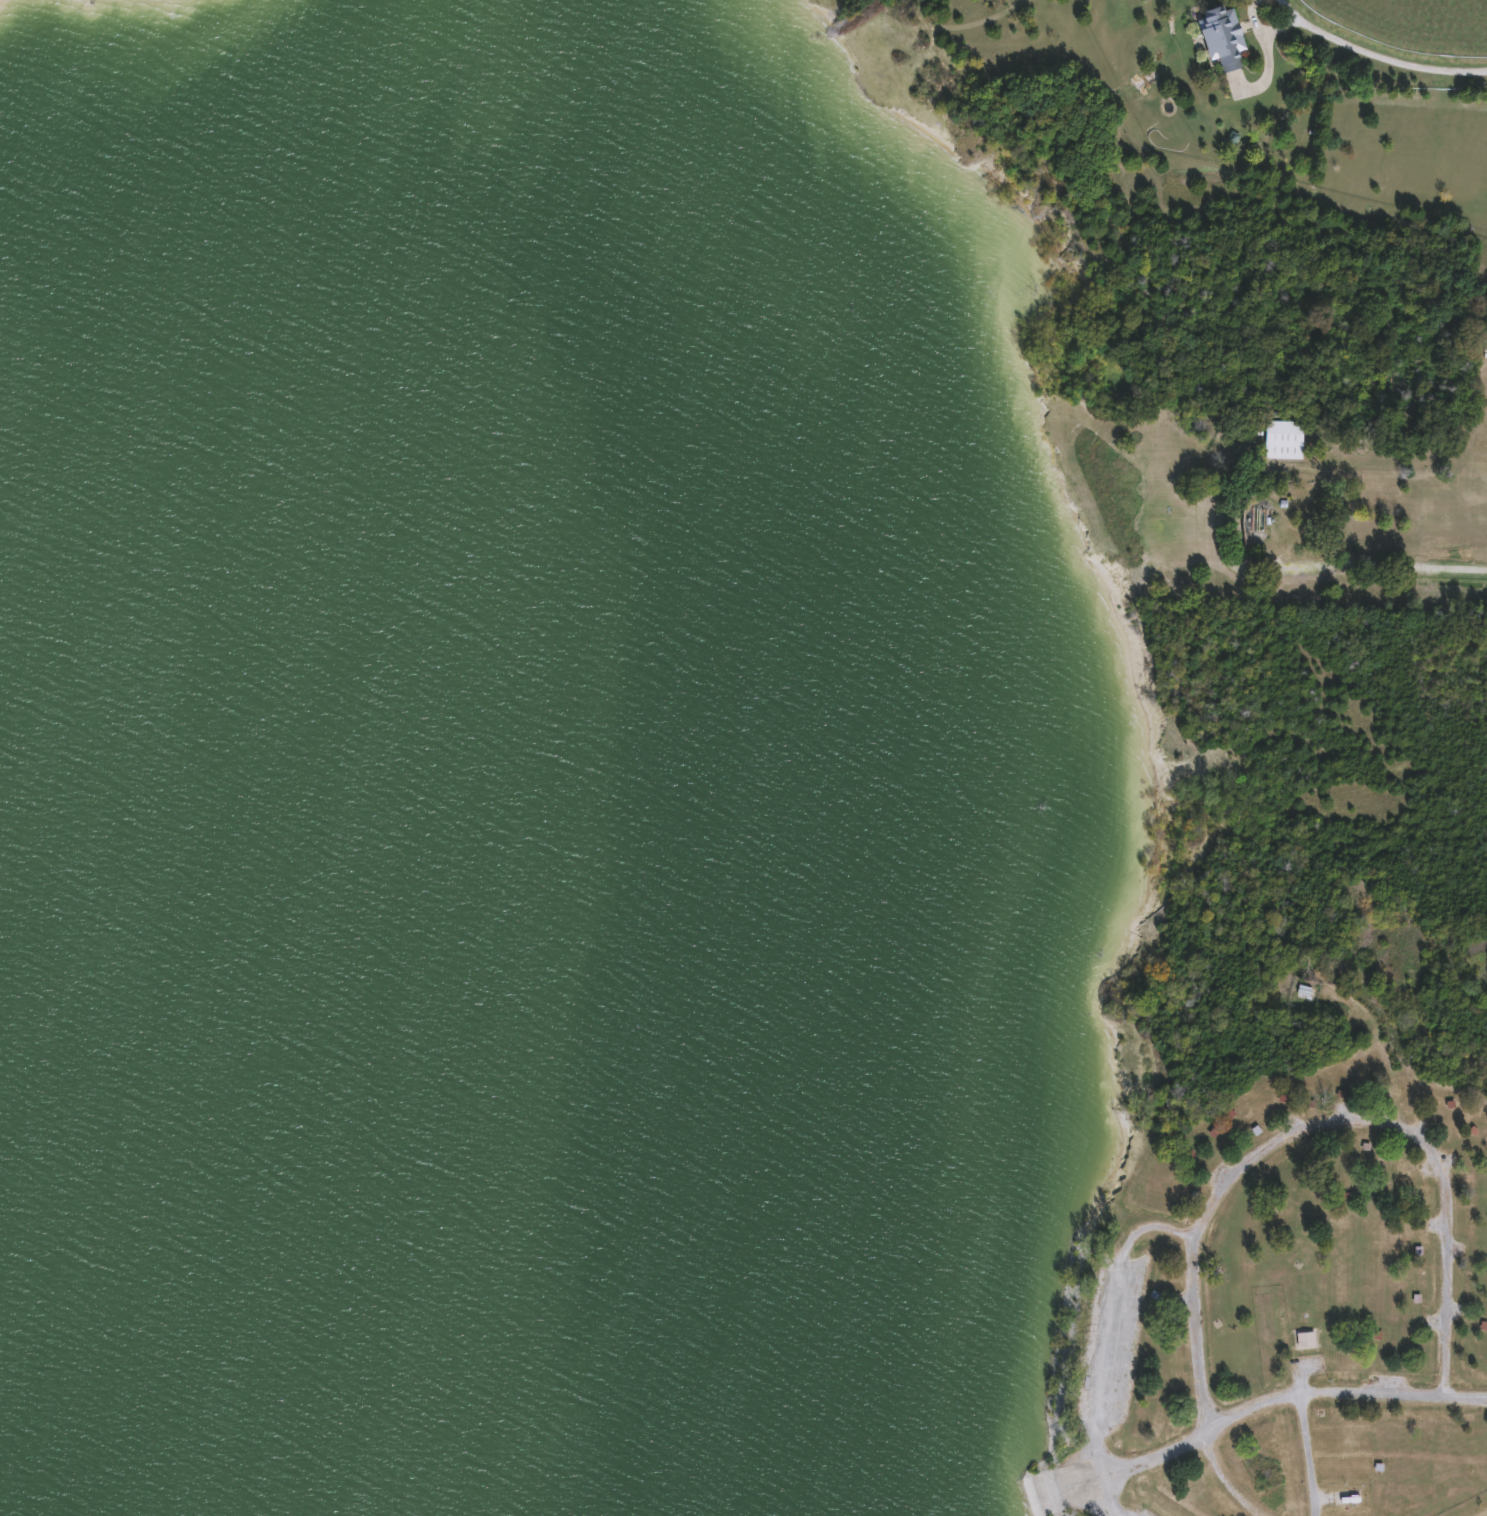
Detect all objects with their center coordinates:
building: (1217, 36)
road: (1376, 55)
building: (1485, 338)
building: (1282, 440)
road: (1343, 582)
building: (1304, 991)
park: (1304, 1077)
building: (1341, 1094)
building: (1281, 1097)
building: (1448, 1104)
building: (1228, 1113)
building: (1470, 1130)
building: (1212, 1131)
building: (1255, 1131)
road: (1277, 1137)
building: (1364, 1147)
building: (1187, 1153)
building: (1486, 1164)
building: (1375, 1173)
building: (1190, 1196)
building: (1344, 1196)
building: (1414, 1203)
building: (1415, 1251)
building: (1486, 1275)
building: (1156, 1294)
building: (1414, 1298)
road: (1113, 1315)
building: (1482, 1326)
building: (1375, 1332)
building: (1303, 1339)
parking lot: (1106, 1343)
road: (1283, 1398)
road: (1309, 1455)
road: (1096, 1478)
road: (1056, 1490)
road: (1106, 1505)
parking lot: (1139, 1512)

